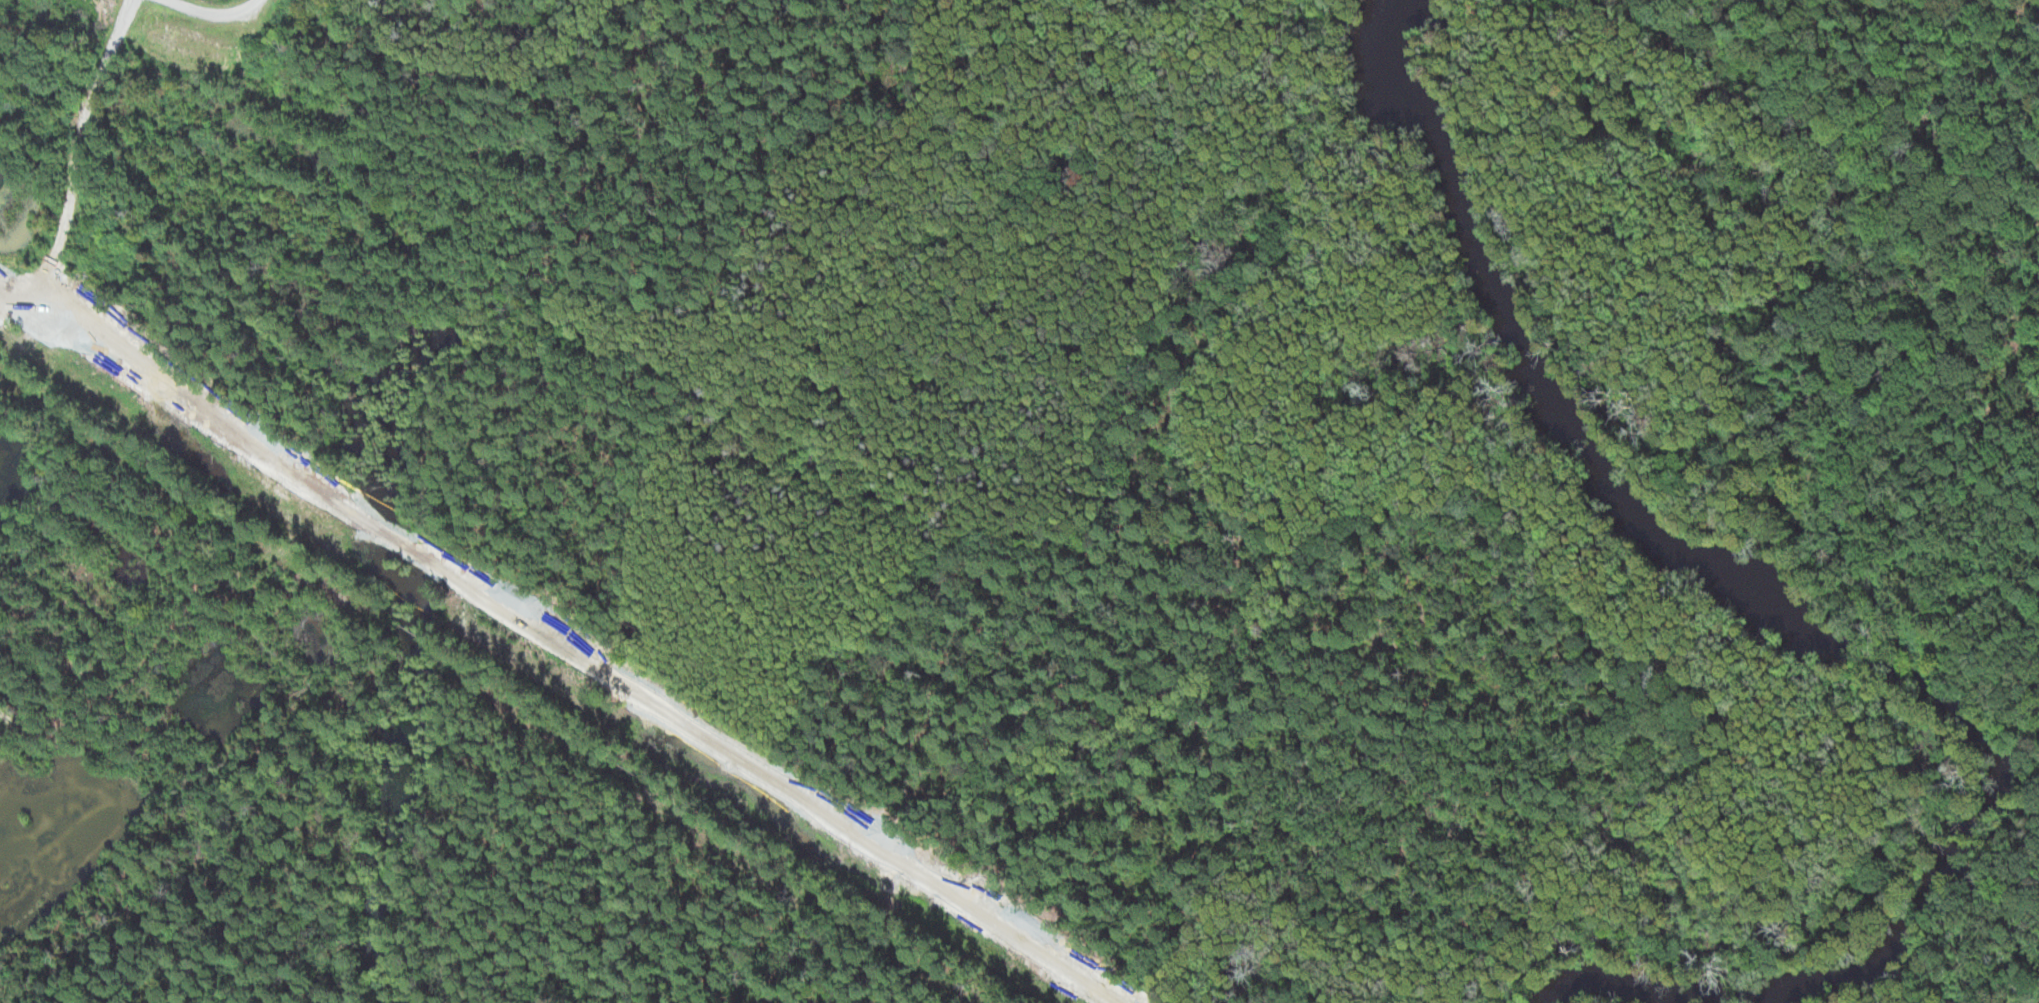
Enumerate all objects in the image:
road: (217, 11)
road: (82, 161)

